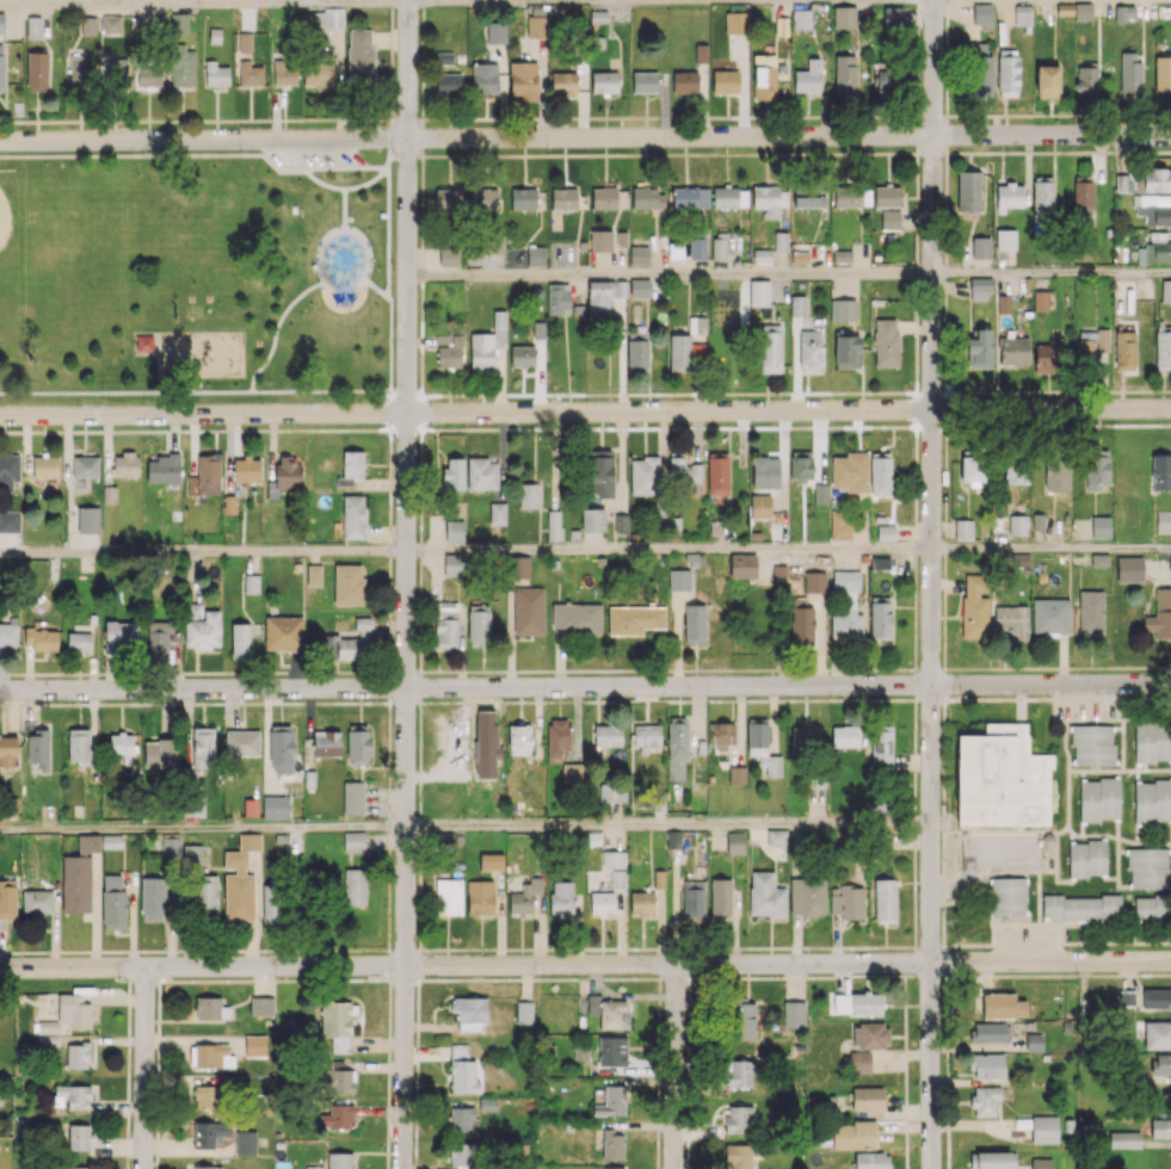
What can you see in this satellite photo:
road: (538, 0)
road: (203, 2)
road: (392, 4)
building: (1081, 12)
building: (1123, 12)
road: (917, 13)
building: (893, 14)
building: (1022, 14)
building: (982, 16)
building: (844, 17)
building: (327, 18)
building: (801, 19)
building: (735, 21)
building: (1, 23)
building: (179, 23)
road: (947, 23)
building: (87, 25)
building: (111, 25)
building: (33, 26)
building: (537, 26)
road: (423, 30)
building: (495, 32)
building: (245, 41)
road: (392, 43)
road: (917, 47)
building: (701, 52)
building: (359, 55)
building: (180, 64)
building: (1, 67)
road: (945, 67)
building: (980, 69)
building: (36, 70)
building: (113, 70)
road: (423, 70)
building: (78, 72)
building: (284, 72)
building: (1007, 73)
building: (1163, 73)
building: (249, 74)
building: (1129, 74)
building: (149, 75)
building: (320, 75)
building: (845, 75)
building: (216, 76)
building: (764, 76)
building: (808, 76)
building: (885, 76)
building: (483, 78)
road: (917, 78)
building: (1086, 78)
building: (523, 80)
building: (645, 81)
building: (684, 81)
building: (725, 81)
building: (1047, 81)
building: (449, 82)
building: (563, 82)
building: (604, 82)
road: (392, 94)
road: (423, 100)
road: (917, 100)
road: (945, 100)
road: (1096, 113)
road: (392, 115)
road: (870, 115)
road: (951, 115)
road: (979, 115)
road: (1012, 115)
road: (729, 116)
road: (779, 116)
road: (813, 116)
road: (556, 117)
road: (620, 117)
road: (685, 117)
road: (931, 117)
road: (449, 118)
road: (485, 118)
road: (514, 118)
road: (537, 118)
road: (267, 119)
road: (364, 119)
road: (5, 120)
road: (76, 120)
road: (95, 120)
road: (113, 120)
road: (124, 120)
road: (158, 120)
road: (190, 120)
road: (407, 120)
road: (26, 122)
road: (58, 122)
road: (919, 132)
road: (944, 134)
road: (420, 136)
road: (393, 137)
road: (585, 137)
road: (929, 149)
road: (1028, 151)
road: (1133, 151)
road: (1164, 151)
road: (406, 153)
road: (787, 153)
road: (814, 153)
road: (836, 153)
road: (855, 153)
road: (890, 153)
road: (587, 154)
road: (662, 154)
road: (714, 154)
road: (765, 154)
road: (431, 155)
road: (480, 155)
road: (195, 156)
road: (945, 179)
building: (1157, 180)
road: (421, 183)
building: (1123, 183)
road: (917, 187)
building: (968, 190)
building: (1083, 193)
building: (845, 194)
building: (886, 196)
building: (1009, 196)
building: (690, 197)
building: (729, 197)
building: (483, 198)
building: (522, 198)
building: (562, 198)
building: (603, 198)
building: (648, 198)
building: (448, 199)
building: (769, 199)
building: (805, 199)
building: (1042, 199)
building: (1153, 209)
building: (889, 219)
road: (421, 227)
road: (916, 228)
road: (945, 231)
park: (38, 235)
building: (621, 239)
building: (1005, 239)
building: (600, 240)
building: (497, 243)
building: (719, 246)
building: (981, 247)
building: (697, 248)
building: (1158, 250)
building: (536, 255)
building: (639, 255)
building: (760, 255)
road: (916, 255)
building: (842, 256)
road: (1052, 271)
road: (390, 273)
park: (195, 274)
road: (668, 274)
building: (640, 287)
road: (945, 287)
building: (979, 289)
building: (1165, 290)
building: (758, 292)
building: (603, 295)
building: (557, 298)
road: (916, 298)
building: (1041, 301)
building: (797, 304)
building: (1003, 304)
building: (843, 309)
road: (421, 315)
building: (696, 324)
building: (1102, 340)
building: (488, 342)
building: (886, 342)
building: (146, 345)
building: (1085, 346)
building: (769, 348)
building: (811, 350)
building: (979, 350)
building: (1013, 350)
building: (1163, 350)
building: (846, 351)
building: (1124, 351)
building: (636, 352)
building: (679, 352)
road: (916, 354)
building: (448, 355)
building: (522, 355)
road: (945, 355)
building: (1046, 357)
road: (191, 363)
road: (1139, 390)
road: (970, 391)
road: (1029, 391)
road: (1084, 391)
road: (291, 392)
road: (708, 392)
road: (815, 392)
road: (95, 394)
road: (475, 394)
road: (551, 394)
road: (639, 394)
road: (917, 409)
road: (392, 410)
road: (585, 412)
road: (1019, 425)
road: (1132, 425)
road: (818, 426)
road: (648, 427)
road: (695, 427)
road: (710, 427)
road: (462, 428)
road: (528, 428)
road: (559, 428)
road: (574, 428)
road: (597, 428)
road: (149, 429)
road: (307, 429)
road: (353, 429)
road: (945, 435)
road: (420, 446)
road: (916, 447)
building: (125, 464)
building: (352, 465)
building: (800, 465)
building: (44, 466)
building: (85, 466)
building: (164, 469)
building: (246, 469)
building: (972, 469)
building: (1015, 469)
building: (1096, 469)
building: (8, 470)
building: (288, 471)
building: (684, 471)
building: (850, 471)
building: (1160, 471)
building: (452, 472)
building: (599, 472)
building: (765, 472)
building: (482, 474)
building: (717, 474)
building: (880, 474)
building: (205, 476)
building: (643, 476)
building: (1056, 476)
road: (916, 483)
road: (390, 485)
building: (820, 494)
building: (109, 495)
building: (529, 495)
road: (420, 500)
building: (759, 506)
building: (497, 513)
building: (352, 517)
building: (88, 519)
building: (592, 519)
building: (10, 520)
building: (1163, 521)
building: (620, 524)
building: (839, 524)
building: (554, 525)
building: (1017, 525)
building: (1101, 526)
building: (963, 530)
building: (455, 531)
building: (885, 532)
road: (1050, 548)
road: (389, 549)
road: (667, 549)
road: (202, 551)
road: (943, 556)
building: (1019, 559)
building: (1099, 559)
building: (880, 562)
building: (454, 564)
building: (742, 565)
building: (519, 567)
road: (420, 569)
building: (1129, 569)
road: (389, 571)
building: (314, 574)
building: (678, 579)
building: (815, 581)
road: (914, 582)
building: (251, 583)
building: (347, 583)
road: (406, 583)
road: (931, 584)
road: (389, 598)
building: (846, 605)
building: (974, 606)
building: (528, 611)
building: (1090, 612)
building: (1160, 614)
building: (880, 616)
building: (1050, 616)
building: (575, 618)
building: (634, 619)
building: (1011, 620)
building: (801, 621)
building: (694, 623)
road: (420, 624)
building: (445, 625)
building: (479, 625)
building: (201, 626)
road: (389, 626)
building: (283, 633)
building: (8, 635)
building: (121, 635)
building: (160, 638)
building: (42, 639)
building: (240, 641)
building: (79, 642)
building: (347, 643)
road: (389, 657)
road: (420, 660)
road: (1154, 666)
road: (1041, 667)
road: (890, 668)
road: (929, 668)
road: (721, 669)
road: (795, 669)
road: (827, 669)
road: (853, 669)
road: (315, 670)
road: (343, 670)
road: (528, 670)
road: (649, 670)
road: (252, 672)
road: (284, 672)
road: (371, 672)
road: (55, 673)
road: (146, 673)
road: (208, 673)
road: (916, 682)
road: (943, 684)
road: (419, 685)
road: (390, 686)
road: (585, 686)
road: (929, 698)
road: (1029, 698)
road: (1142, 698)
road: (734, 699)
road: (863, 699)
road: (899, 699)
road: (611, 700)
road: (309, 701)
road: (507, 701)
road: (88, 703)
road: (175, 703)
road: (196, 703)
road: (215, 703)
road: (7, 704)
road: (943, 707)
road: (389, 709)
building: (722, 734)
building: (606, 735)
building: (845, 736)
building: (646, 737)
building: (803, 737)
building: (557, 738)
building: (519, 740)
building: (1152, 741)
building: (246, 742)
building: (326, 742)
building: (121, 743)
building: (486, 743)
building: (78, 744)
building: (279, 744)
building: (881, 744)
building: (1092, 744)
building: (202, 747)
building: (357, 747)
building: (762, 747)
building: (37, 748)
building: (676, 748)
building: (8, 750)
building: (160, 753)
road: (388, 753)
road: (943, 753)
road: (913, 754)
road: (420, 765)
building: (572, 772)
building: (737, 774)
building: (1000, 778)
building: (612, 792)
building: (352, 798)
building: (1098, 799)
building: (1152, 800)
building: (193, 806)
building: (275, 806)
building: (251, 808)
road: (464, 827)
road: (913, 831)
building: (111, 841)
building: (249, 841)
building: (353, 841)
building: (735, 842)
building: (88, 843)
building: (171, 846)
road: (420, 851)
building: (192, 853)
building: (1086, 858)
building: (614, 859)
building: (491, 861)
road: (943, 867)
building: (1148, 867)
road: (388, 868)
building: (659, 878)
building: (75, 883)
road: (420, 883)
building: (355, 886)
building: (238, 887)
building: (765, 895)
building: (448, 896)
building: (807, 896)
building: (1007, 896)
building: (205, 897)
building: (480, 897)
building: (524, 897)
building: (561, 897)
building: (720, 897)
building: (7, 898)
building: (153, 898)
building: (694, 898)
road: (913, 899)
building: (883, 901)
building: (37, 902)
building: (846, 902)
building: (113, 903)
building: (270, 903)
building: (600, 903)
building: (641, 903)
road: (419, 905)
building: (1081, 907)
building: (1151, 907)
road: (420, 933)
road: (1152, 941)
road: (1165, 941)
road: (1092, 942)
road: (1110, 942)
road: (1124, 942)
road: (1138, 942)
road: (1011, 944)
road: (846, 946)
road: (667, 947)
road: (735, 947)
road: (763, 947)
road: (929, 947)
road: (437, 948)
road: (464, 948)
road: (514, 948)
road: (568, 948)
road: (596, 948)
road: (251, 950)
road: (306, 950)
road: (362, 950)
road: (93, 951)
road: (209, 951)
road: (912, 960)
road: (389, 963)
road: (585, 964)
road: (898, 975)
road: (966, 975)
road: (1078, 975)
road: (716, 976)
road: (803, 976)
road: (877, 976)
road: (673, 977)
road: (540, 978)
road: (316, 979)
road: (366, 979)
road: (904, 979)
road: (223, 981)
road: (659, 988)
road: (128, 990)
road: (689, 994)
road: (904, 997)
building: (1126, 997)
building: (1157, 997)
building: (857, 1003)
building: (261, 1006)
building: (1003, 1006)
building: (210, 1008)
building: (74, 1010)
road: (947, 1010)
building: (524, 1012)
building: (610, 1012)
building: (469, 1013)
road: (158, 1014)
building: (794, 1014)
road: (128, 1016)
building: (742, 1020)
building: (337, 1025)
building: (48, 1027)
road: (417, 1032)
building: (990, 1032)
building: (1157, 1034)
building: (870, 1035)
building: (1031, 1041)
building: (254, 1045)
road: (388, 1047)
building: (610, 1052)
building: (78, 1054)
building: (210, 1056)
building: (859, 1062)
building: (986, 1065)
road: (674, 1066)
road: (947, 1066)
road: (143, 1068)
building: (1160, 1068)
road: (688, 1069)
building: (462, 1070)
building: (739, 1074)
road: (658, 1075)
building: (335, 1077)
road: (156, 1087)
road: (905, 1090)
building: (74, 1095)
building: (207, 1096)
building: (867, 1099)
building: (985, 1100)
road: (128, 1101)
building: (611, 1101)
road: (948, 1106)
road: (415, 1107)
building: (338, 1117)
building: (461, 1118)
building: (740, 1119)
building: (1044, 1128)
building: (1160, 1128)
building: (209, 1133)
building: (852, 1136)
building: (79, 1137)
road: (387, 1138)
building: (1124, 1139)
building: (245, 1142)
building: (611, 1144)
road: (415, 1145)
road: (156, 1146)
road: (948, 1146)
road: (686, 1149)
building: (461, 1155)
building: (739, 1156)
building: (341, 1159)
road: (657, 1159)
building: (994, 1159)
building: (871, 1161)
building: (1041, 1163)
road: (387, 1165)
building: (78, 1167)
building: (205, 1167)
building: (313, 1167)
building: (612, 1167)

